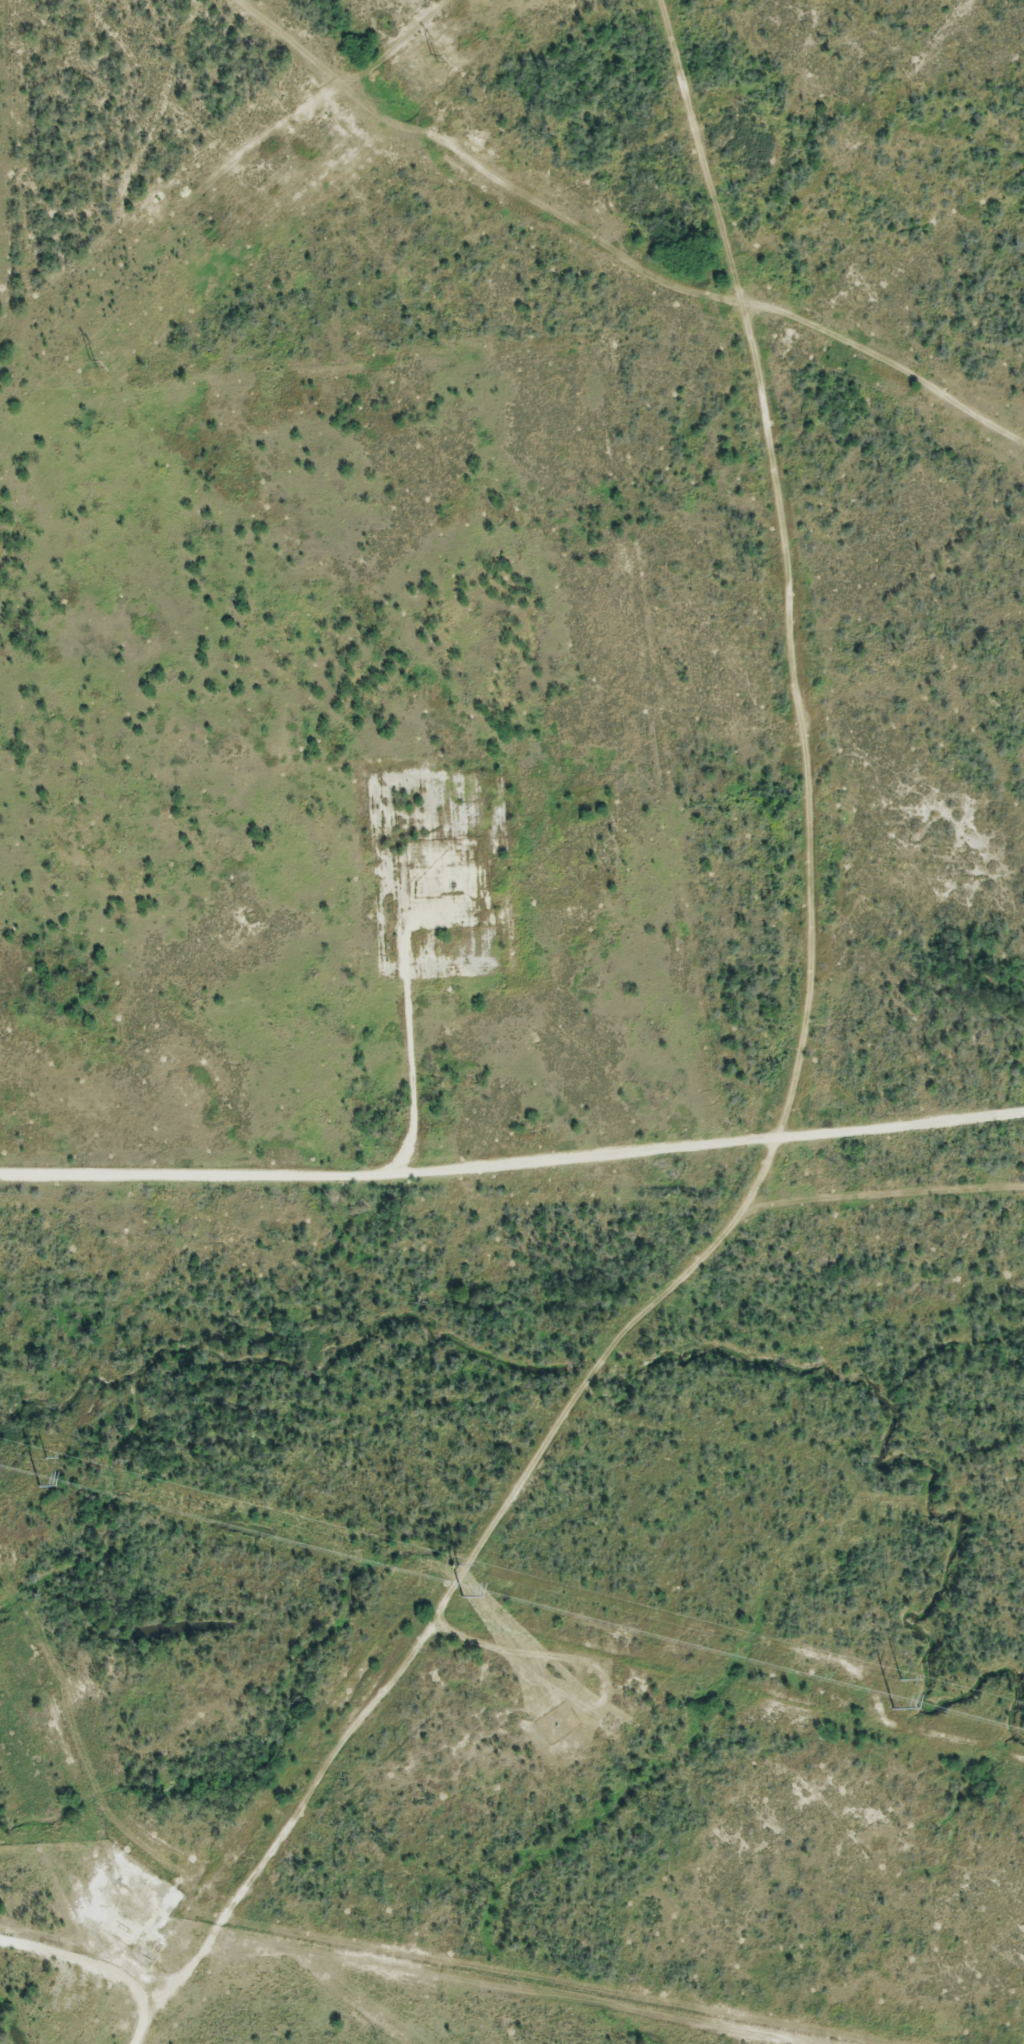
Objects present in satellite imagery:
power tower: (434, 57)
power tower: (92, 363)
road: (408, 1048)
road: (786, 1105)
road: (513, 1167)
power tower: (49, 1461)
power tower: (36, 1488)
power tower: (449, 1567)
power tower: (460, 1597)
power tower: (901, 1680)
power tower: (892, 1711)
road: (102, 1962)

